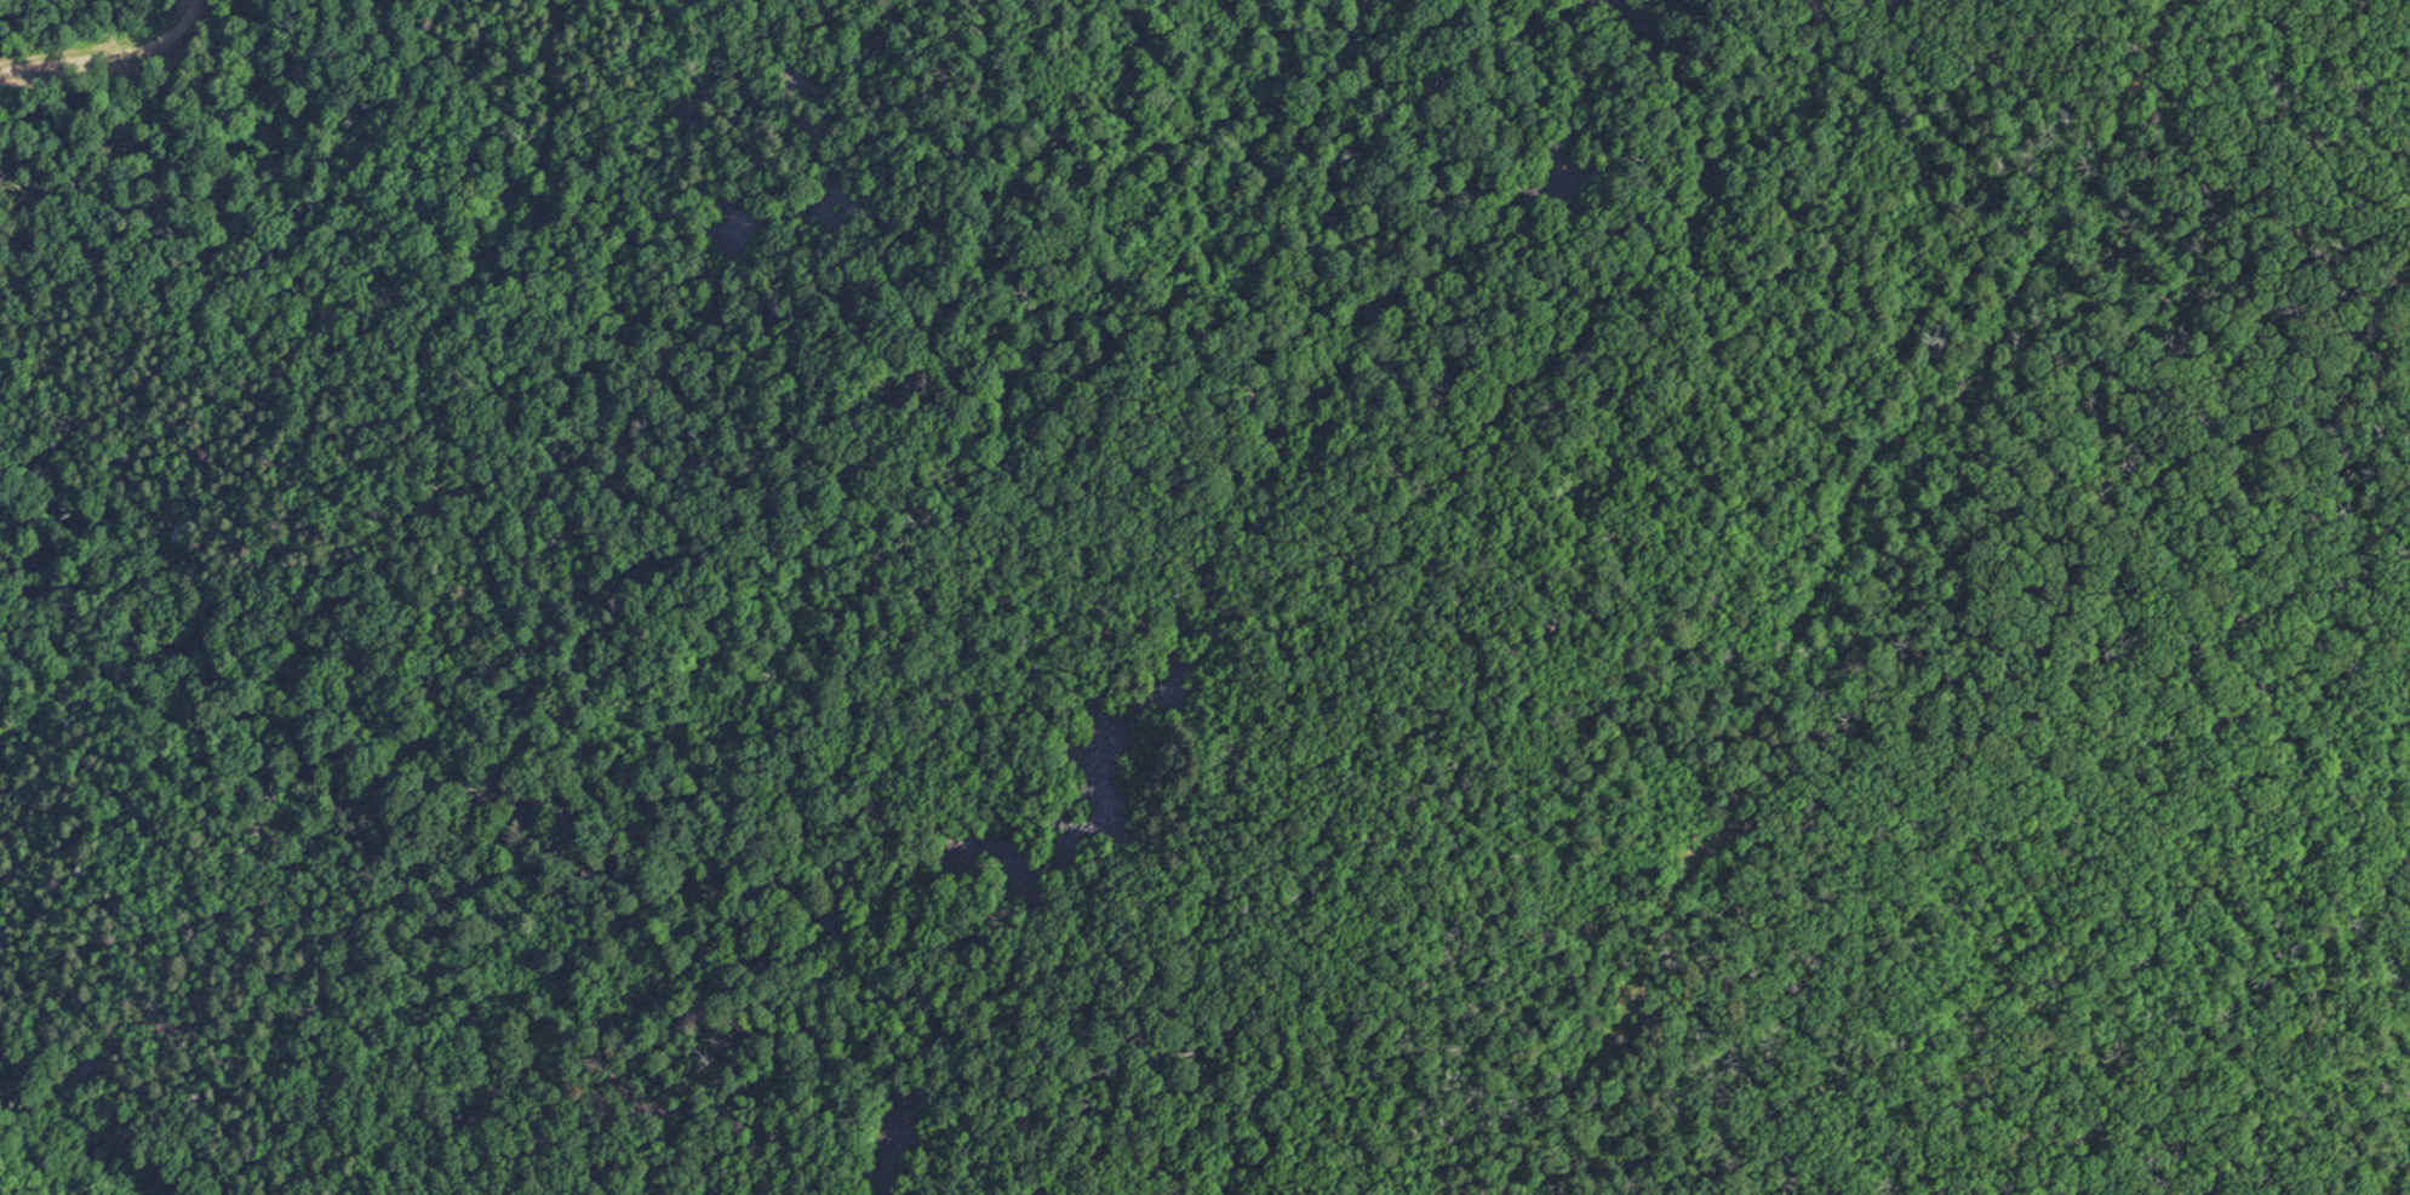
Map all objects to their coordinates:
road: (1815, 578)
road: (2090, 747)

